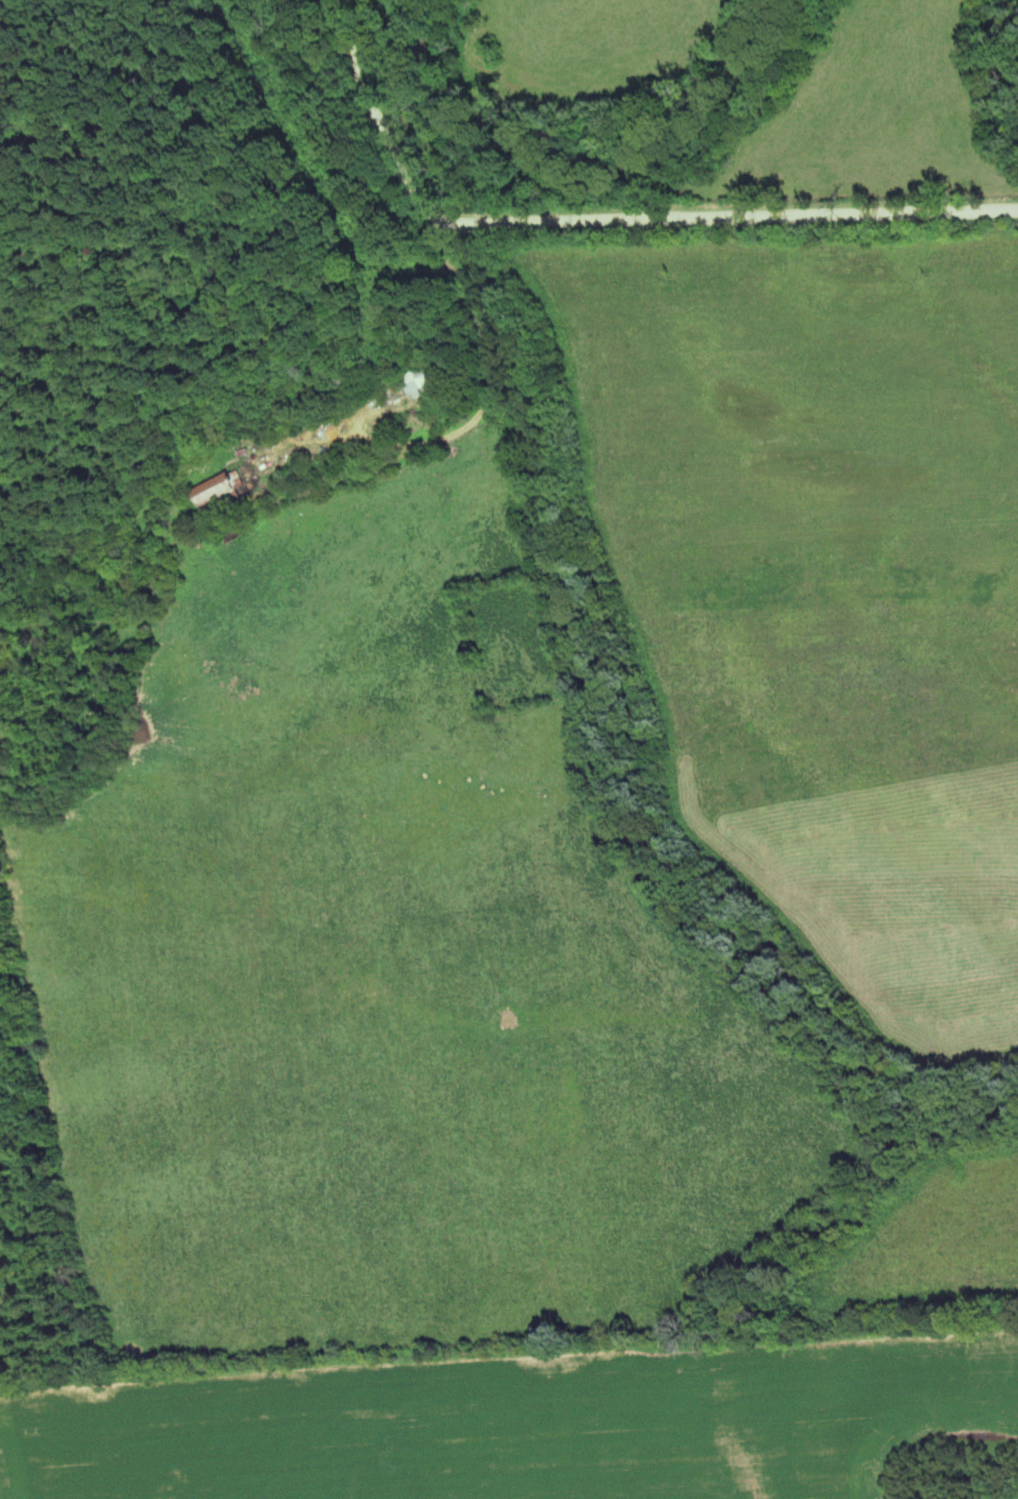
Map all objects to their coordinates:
road: (603, 220)
building: (417, 380)

